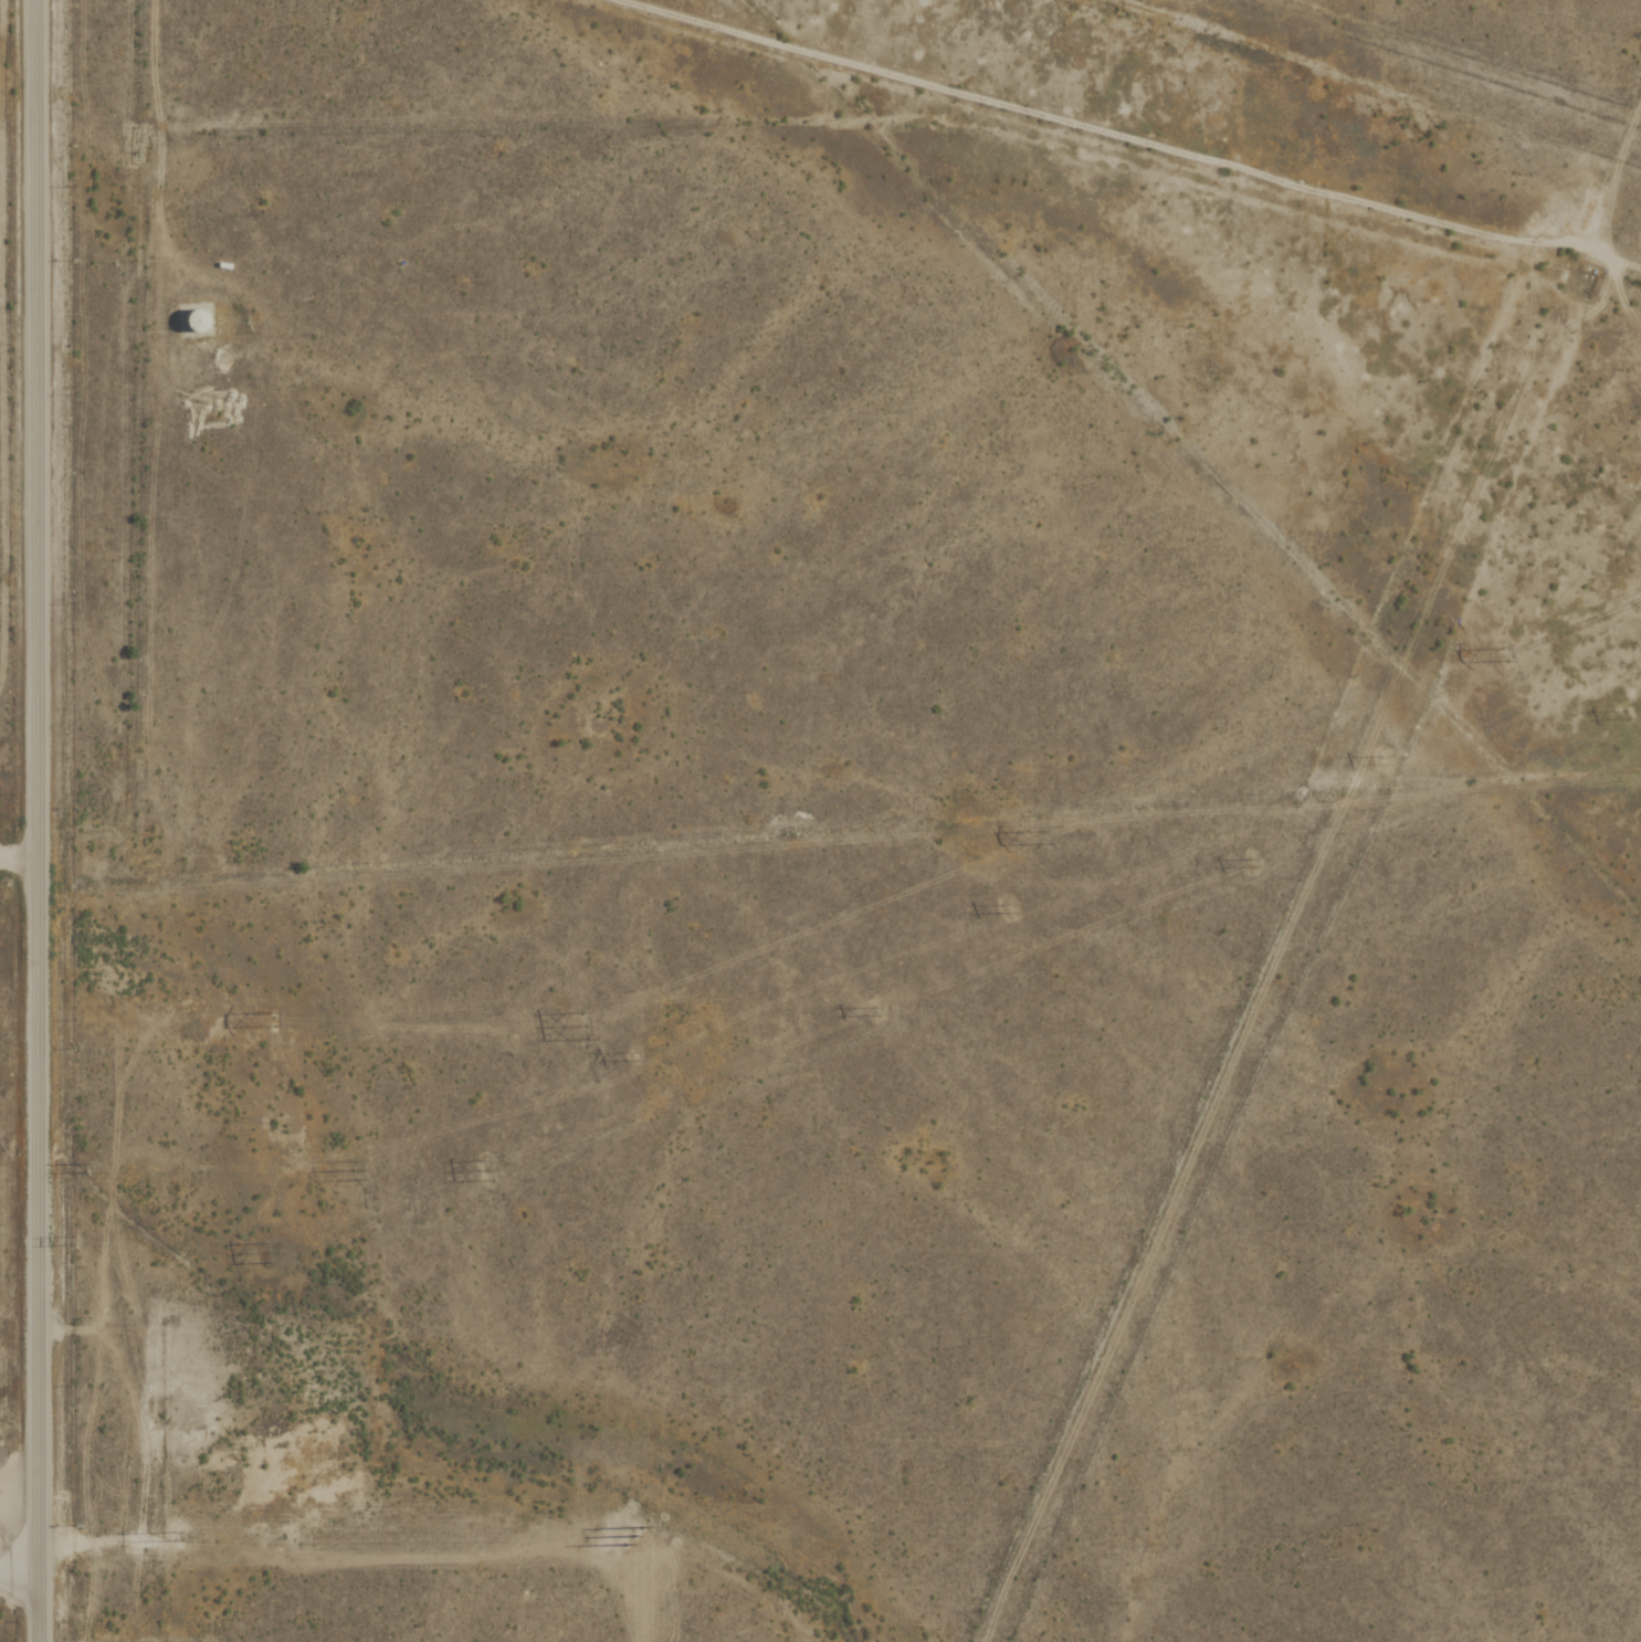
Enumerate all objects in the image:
road: (1077, 149)
power tower: (1503, 655)
power tower: (1624, 717)
power tower: (1379, 761)
road: (41, 820)
power tower: (1042, 840)
road: (20, 860)
power tower: (1249, 864)
power tower: (1009, 911)
power tower: (873, 1013)
power tower: (272, 1019)
power tower: (583, 1025)
power tower: (634, 1057)
power tower: (87, 1168)
power tower: (358, 1171)
power tower: (491, 1172)
power tower: (75, 1241)
power tower: (265, 1254)
road: (21, 1565)

